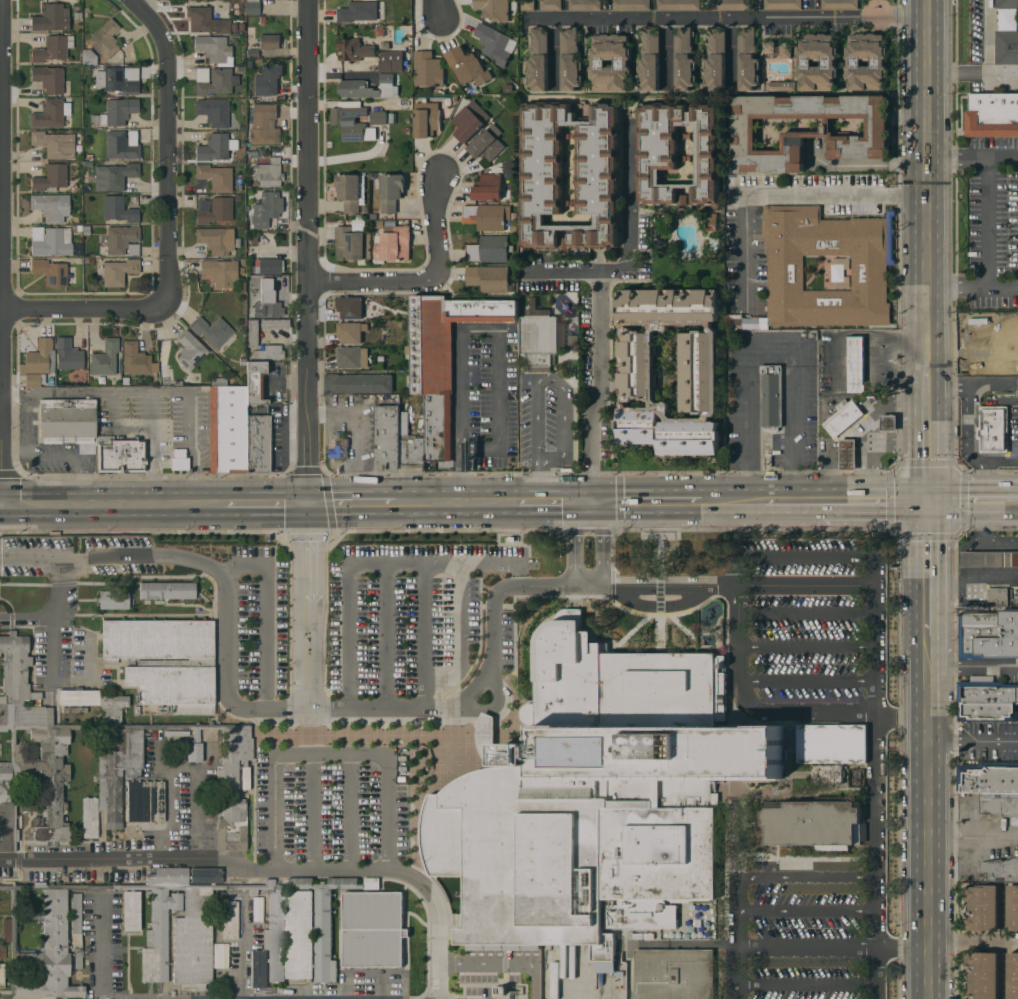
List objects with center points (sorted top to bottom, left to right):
building: (677, 4)
building: (733, 4)
building: (782, 4)
building: (839, 4)
building: (1006, 4)
building: (527, 5)
building: (550, 5)
building: (584, 5)
building: (630, 5)
building: (252, 6)
road: (438, 9)
building: (492, 9)
road: (927, 10)
building: (357, 12)
building: (51, 17)
building: (199, 17)
road: (725, 18)
building: (223, 26)
building: (105, 38)
road: (988, 39)
building: (269, 43)
building: (493, 43)
building: (52, 48)
building: (1006, 48)
building: (214, 49)
building: (353, 49)
building: (785, 51)
road: (552, 54)
road: (666, 54)
road: (731, 54)
building: (89, 58)
building: (538, 60)
building: (570, 60)
building: (650, 60)
building: (684, 60)
building: (716, 60)
building: (748, 60)
building: (390, 61)
building: (817, 62)
building: (866, 62)
building: (610, 63)
building: (467, 68)
building: (427, 69)
road: (958, 72)
road: (1003, 77)
building: (49, 78)
building: (119, 79)
building: (213, 80)
building: (267, 80)
building: (781, 86)
building: (368, 88)
building: (405, 104)
building: (119, 110)
building: (213, 111)
building: (50, 113)
building: (992, 115)
building: (378, 118)
building: (426, 119)
building: (350, 122)
building: (264, 124)
building: (466, 124)
building: (808, 133)
building: (54, 143)
building: (487, 143)
building: (122, 144)
road: (166, 147)
building: (213, 148)
building: (676, 152)
road: (972, 158)
building: (597, 170)
building: (269, 173)
building: (113, 176)
building: (215, 176)
building: (50, 177)
building: (489, 188)
building: (388, 189)
building: (348, 192)
road: (782, 193)
road: (926, 195)
building: (270, 204)
building: (51, 206)
building: (118, 209)
building: (216, 211)
building: (485, 217)
building: (252, 219)
road: (986, 224)
building: (215, 239)
building: (123, 240)
building: (51, 241)
road: (630, 242)
building: (352, 244)
building: (394, 245)
building: (565, 245)
building: (489, 249)
road: (3, 251)
road: (311, 251)
building: (267, 266)
building: (118, 271)
building: (53, 272)
building: (220, 272)
building: (838, 275)
building: (869, 278)
building: (489, 279)
road: (431, 281)
building: (280, 283)
road: (972, 291)
building: (262, 306)
road: (82, 307)
building: (351, 307)
building: (739, 323)
building: (275, 324)
road: (468, 327)
building: (215, 332)
building: (252, 333)
building: (349, 333)
road: (995, 334)
building: (539, 341)
road: (769, 349)
building: (190, 350)
building: (268, 353)
building: (67, 355)
building: (350, 357)
building: (104, 358)
building: (136, 359)
building: (443, 359)
road: (972, 359)
building: (38, 362)
building: (856, 363)
building: (698, 373)
road: (599, 377)
building: (254, 382)
road: (288, 382)
road: (554, 382)
building: (356, 384)
road: (948, 384)
road: (994, 385)
road: (96, 392)
building: (771, 397)
building: (842, 418)
road: (970, 419)
building: (67, 420)
building: (888, 423)
road: (744, 425)
road: (797, 425)
building: (227, 429)
building: (993, 429)
road: (356, 434)
road: (926, 435)
building: (387, 438)
building: (257, 444)
road: (153, 447)
road: (192, 447)
building: (339, 448)
building: (411, 450)
building: (120, 454)
building: (847, 455)
road: (58, 460)
building: (179, 460)
road: (997, 462)
road: (981, 474)
road: (534, 487)
road: (591, 491)
road: (876, 500)
traffic signals: (926, 500)
road: (972, 500)
road: (453, 501)
road: (554, 501)
road: (647, 501)
road: (732, 501)
road: (796, 501)
road: (266, 502)
road: (351, 502)
road: (43, 503)
road: (118, 503)
road: (174, 503)
road: (209, 503)
road: (2, 504)
road: (572, 531)
road: (598, 543)
road: (113, 559)
road: (804, 559)
building: (989, 559)
road: (409, 564)
road: (927, 567)
road: (806, 585)
road: (664, 586)
building: (167, 590)
building: (997, 597)
building: (113, 599)
road: (308, 604)
parking lot: (407, 609)
road: (54, 611)
road: (806, 611)
parking lot: (258, 616)
parking lot: (813, 617)
road: (385, 635)
road: (422, 635)
road: (459, 635)
building: (988, 635)
road: (55, 646)
road: (807, 646)
road: (875, 650)
building: (165, 661)
road: (973, 669)
road: (808, 677)
building: (986, 693)
road: (266, 701)
road: (493, 706)
road: (436, 707)
road: (780, 708)
building: (987, 712)
road: (973, 740)
building: (832, 744)
road: (330, 755)
building: (99, 757)
building: (642, 762)
road: (180, 768)
building: (826, 774)
building: (988, 779)
building: (28, 801)
parking lot: (332, 803)
building: (999, 806)
road: (311, 811)
road: (351, 812)
building: (130, 815)
road: (929, 816)
building: (810, 822)
road: (871, 831)
road: (973, 834)
building: (513, 855)
road: (272, 868)
building: (999, 871)
road: (795, 877)
building: (1013, 907)
building: (983, 908)
building: (131, 910)
building: (257, 912)
road: (804, 912)
building: (76, 913)
building: (229, 919)
building: (371, 929)
building: (188, 930)
building: (416, 930)
road: (738, 938)
road: (973, 942)
road: (1002, 945)
road: (834, 946)
building: (3, 952)
road: (97, 953)
building: (225, 955)
building: (78, 958)
road: (502, 963)
road: (874, 972)
building: (673, 974)
building: (2, 975)
building: (983, 975)
building: (1013, 976)
building: (504, 996)
road: (579, 996)

